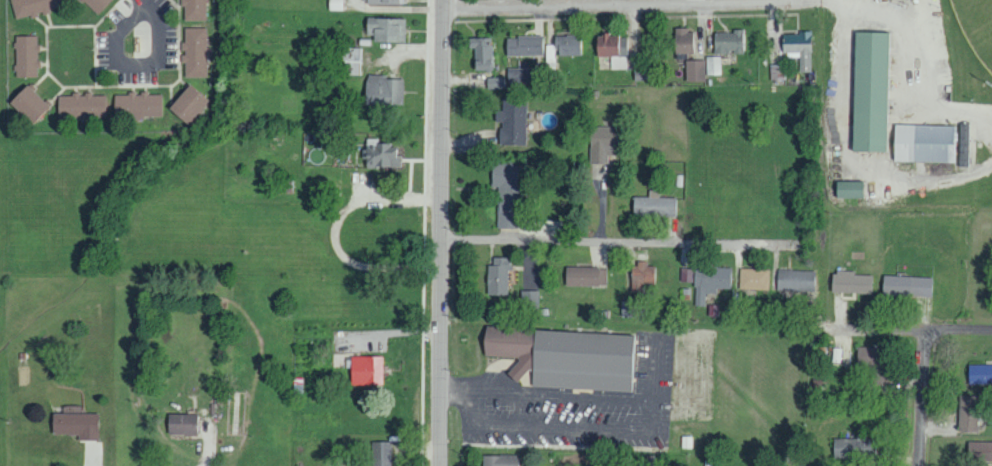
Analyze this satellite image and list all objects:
road: (807, 0)
building: (383, 1)
road: (139, 2)
building: (96, 4)
road: (625, 5)
building: (34, 6)
building: (194, 9)
park: (976, 26)
building: (385, 29)
road: (919, 36)
building: (683, 40)
building: (728, 41)
building: (524, 45)
building: (567, 45)
park: (950, 46)
building: (798, 47)
building: (613, 49)
building: (195, 52)
building: (481, 52)
building: (26, 55)
building: (350, 60)
road: (132, 63)
building: (713, 65)
building: (694, 70)
building: (777, 71)
building: (517, 73)
building: (495, 82)
building: (382, 89)
building: (868, 91)
building: (27, 103)
building: (187, 103)
building: (136, 104)
building: (81, 105)
building: (512, 121)
building: (603, 143)
building: (922, 143)
building: (962, 144)
building: (380, 154)
building: (847, 188)
building: (505, 194)
building: (653, 206)
road: (441, 232)
road: (620, 243)
building: (497, 276)
building: (584, 276)
building: (640, 276)
building: (754, 278)
building: (795, 280)
building: (709, 282)
building: (850, 282)
building: (906, 285)
building: (529, 300)
road: (899, 333)
building: (866, 355)
building: (565, 357)
building: (365, 370)
building: (979, 374)
building: (876, 375)
road: (524, 380)
road: (923, 399)
building: (967, 413)
building: (181, 424)
building: (75, 425)
building: (854, 446)
building: (979, 451)
building: (381, 453)
road: (93, 455)
building: (498, 460)

